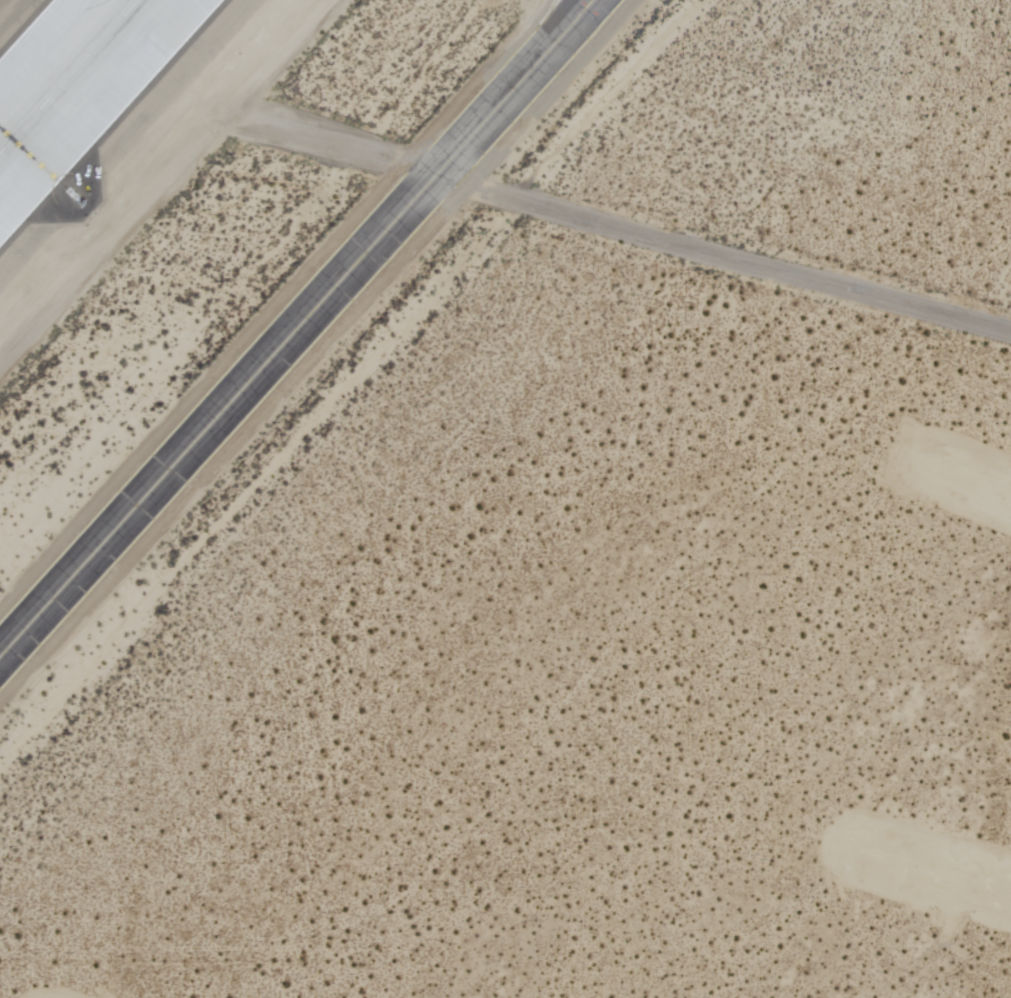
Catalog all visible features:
airport runway: (68, 75)
airport taxiway: (296, 327)
airport: (505, 499)

